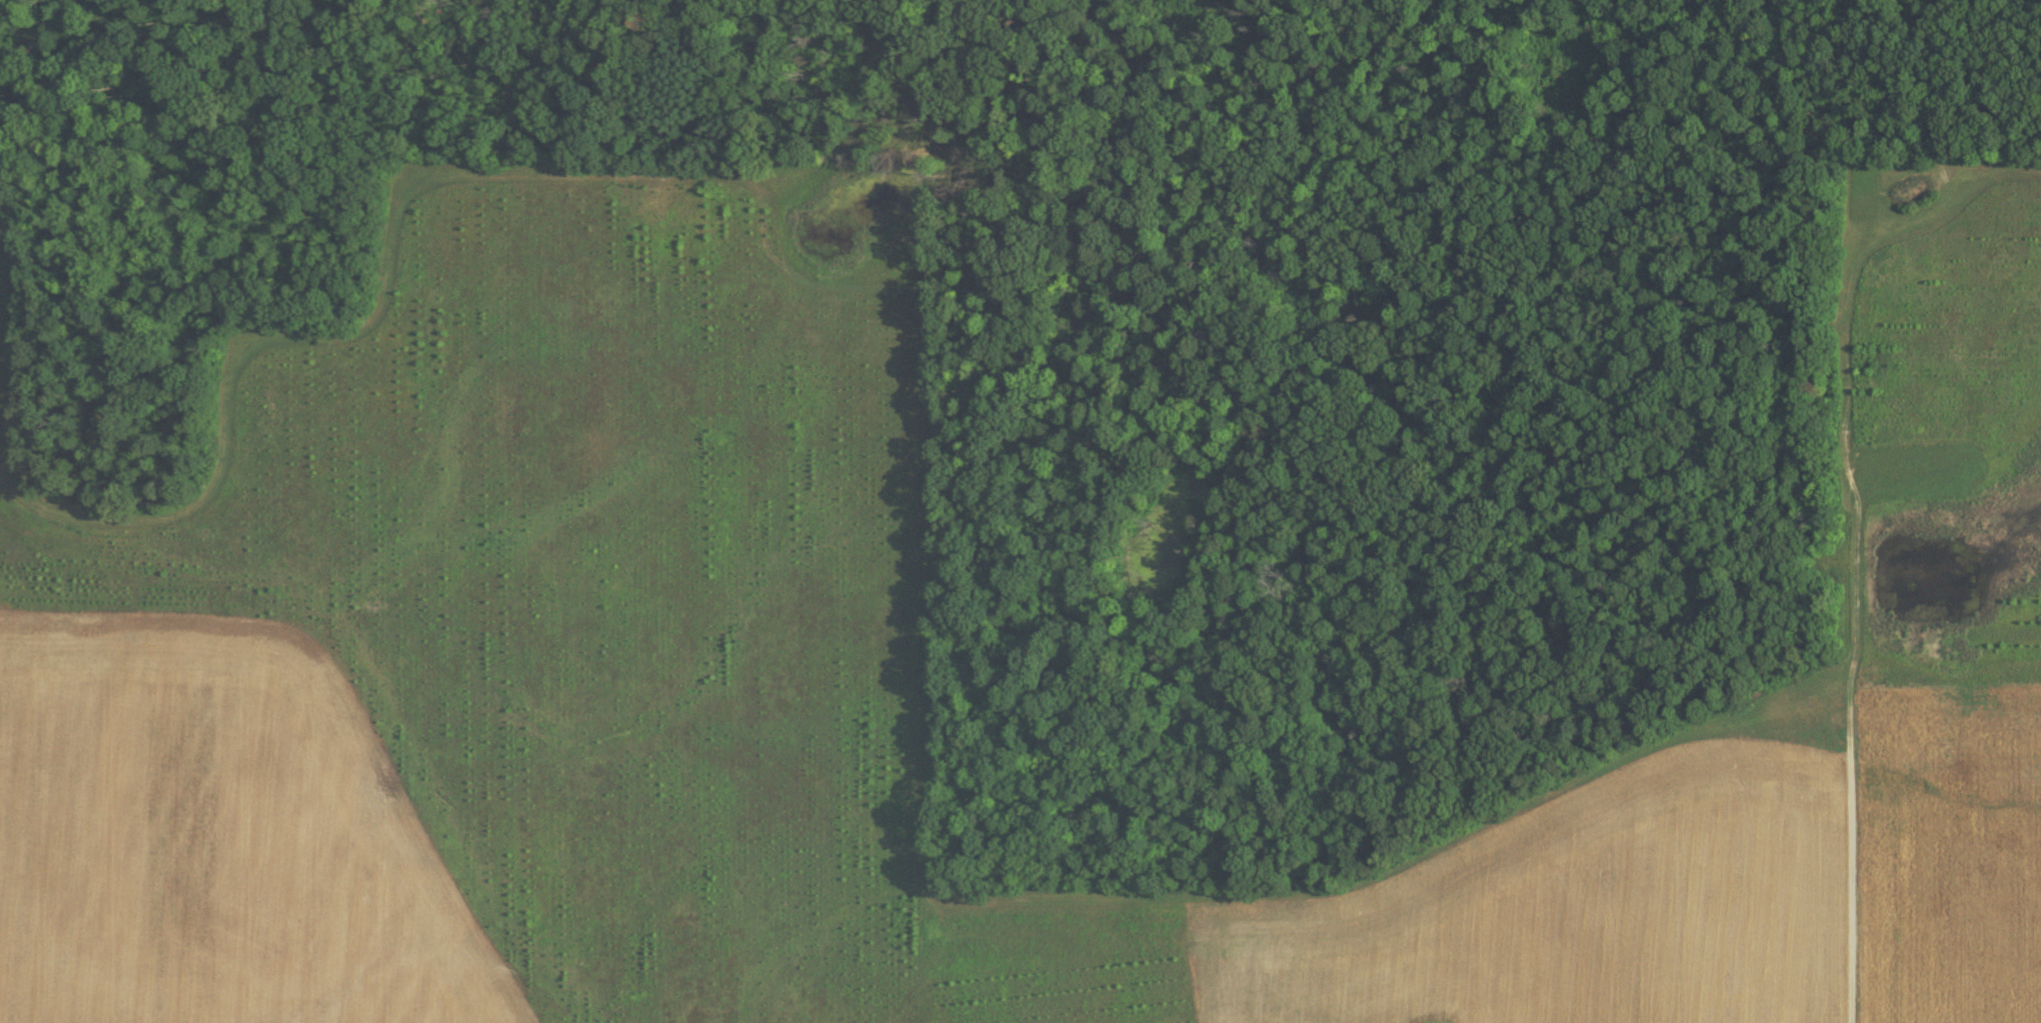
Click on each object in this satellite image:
crop: (1948, 852)

